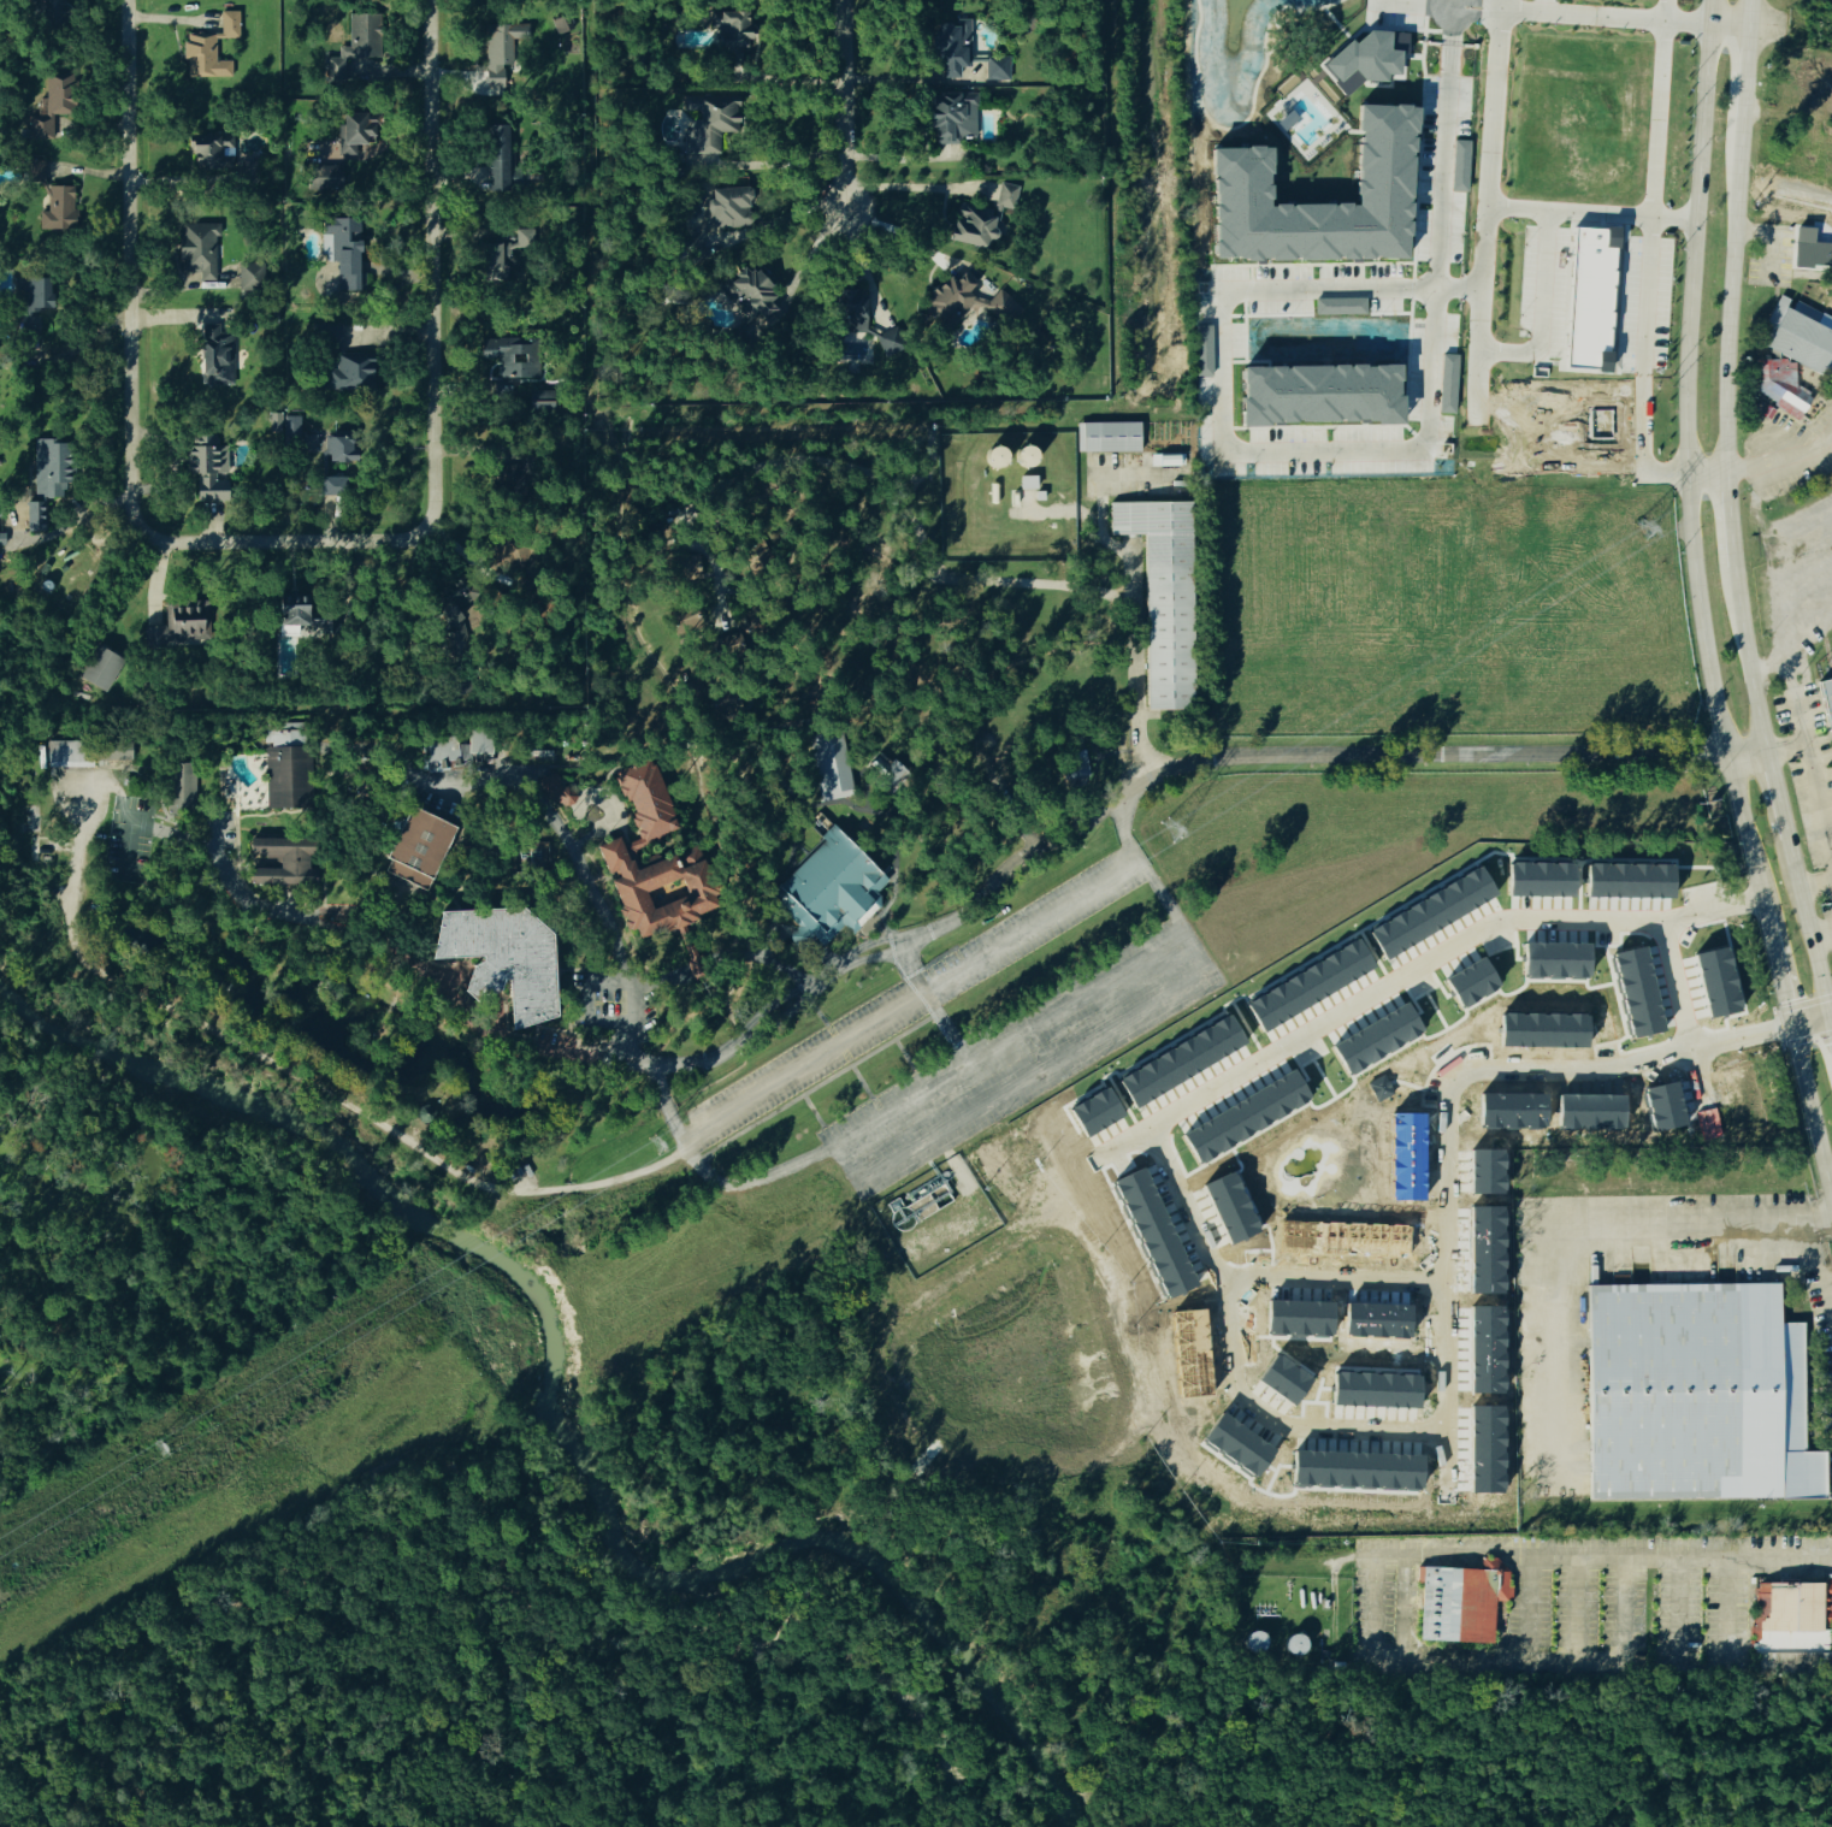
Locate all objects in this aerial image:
road: (1501, 5)
road: (1670, 11)
road: (1744, 13)
building: (731, 32)
building: (362, 36)
building: (950, 49)
building: (209, 51)
building: (492, 60)
building: (365, 64)
building: (997, 70)
building: (333, 72)
road: (1742, 75)
building: (57, 96)
road: (843, 102)
building: (952, 118)
building: (1287, 120)
building: (707, 123)
road: (1493, 124)
building: (353, 134)
building: (208, 150)
building: (498, 159)
road: (767, 162)
building: (1460, 166)
building: (32, 171)
building: (323, 179)
road: (1443, 188)
road: (910, 189)
building: (1006, 197)
building: (722, 207)
road: (1519, 208)
building: (58, 211)
road: (784, 214)
building: (1255, 214)
building: (971, 226)
road: (898, 230)
road: (1654, 231)
road: (1548, 241)
building: (503, 253)
building: (197, 254)
building: (339, 255)
building: (1822, 255)
building: (249, 278)
road: (1459, 290)
building: (750, 294)
road: (1728, 298)
building: (1591, 300)
building: (948, 303)
building: (1340, 306)
building: (1003, 308)
building: (31, 309)
building: (847, 312)
road: (129, 330)
road: (400, 331)
building: (1798, 337)
road: (436, 349)
building: (882, 349)
building: (510, 359)
building: (217, 360)
building: (350, 373)
road: (1683, 377)
building: (1448, 383)
building: (1778, 395)
building: (276, 424)
building: (290, 428)
building: (1107, 437)
road: (1228, 439)
building: (336, 448)
building: (1168, 459)
road: (1781, 460)
road: (956, 465)
building: (206, 469)
road: (1115, 475)
road: (1706, 478)
building: (45, 483)
building: (1027, 484)
building: (333, 486)
road: (723, 504)
road: (788, 509)
road: (1730, 522)
power tower: (1642, 534)
building: (755, 556)
building: (681, 570)
road: (625, 585)
building: (1164, 595)
road: (769, 603)
road: (809, 604)
road: (704, 613)
road: (733, 615)
building: (689, 620)
building: (181, 621)
building: (296, 621)
building: (728, 646)
road: (643, 651)
road: (704, 655)
road: (1747, 660)
road: (770, 666)
building: (101, 667)
road: (717, 667)
road: (951, 685)
road: (713, 687)
building: (725, 702)
building: (1826, 702)
road: (974, 704)
road: (1141, 709)
road: (1152, 709)
road: (1146, 713)
road: (1158, 713)
road: (1152, 716)
road: (1142, 717)
road: (822, 725)
water tower: (968, 731)
water tower: (989, 739)
road: (515, 741)
road: (762, 744)
road: (1800, 746)
building: (114, 750)
building: (457, 751)
road: (1115, 752)
building: (70, 753)
road: (602, 755)
road: (1458, 755)
building: (540, 756)
building: (364, 758)
building: (831, 763)
building: (289, 767)
road: (362, 767)
road: (110, 768)
road: (520, 768)
road: (621, 768)
building: (1075, 768)
road: (362, 769)
road: (359, 770)
road: (1813, 771)
road: (413, 774)
road: (858, 774)
building: (887, 774)
road: (359, 780)
building: (182, 790)
road: (865, 791)
road: (1777, 791)
road: (390, 793)
parking lot: (439, 794)
building: (566, 797)
building: (648, 802)
road: (556, 806)
road: (1011, 809)
road: (614, 815)
road: (597, 817)
road: (162, 818)
fountain: (865, 827)
parking lot: (227, 829)
road: (1747, 830)
road: (212, 832)
power tower: (1170, 833)
road: (720, 835)
road: (729, 835)
parking lot: (129, 839)
road: (188, 839)
road: (1046, 842)
road: (636, 845)
road: (675, 845)
road: (321, 846)
building: (419, 847)
road: (129, 849)
building: (34, 852)
road: (447, 853)
road: (261, 855)
building: (536, 855)
road: (256, 858)
road: (575, 858)
building: (284, 861)
road: (259, 862)
road: (349, 864)
road: (238, 870)
road: (890, 874)
fountain: (463, 879)
road: (528, 879)
road: (392, 885)
road: (531, 886)
road: (416, 888)
building: (661, 888)
building: (832, 888)
road: (893, 894)
road: (449, 897)
road: (439, 901)
road: (534, 901)
road: (389, 909)
road: (554, 911)
road: (303, 917)
road: (874, 922)
road: (380, 923)
road: (864, 926)
parking lot: (1032, 926)
road: (1809, 926)
road: (877, 928)
road: (797, 933)
road: (630, 934)
road: (1822, 934)
road: (894, 938)
road: (686, 945)
road: (900, 951)
road: (720, 954)
road: (701, 956)
building: (503, 958)
building: (1556, 959)
road: (687, 963)
road: (930, 963)
road: (1779, 969)
road: (791, 976)
road: (323, 977)
road: (1216, 980)
road: (253, 981)
road: (489, 981)
road: (593, 981)
building: (1716, 982)
building: (1637, 992)
road: (1677, 992)
road: (271, 997)
road: (735, 997)
parking lot: (595, 998)
road: (569, 1003)
road: (932, 1003)
road: (159, 1005)
road: (391, 1005)
road: (591, 1016)
traffic signals: (1831, 1017)
road: (822, 1018)
road: (1812, 1021)
road: (273, 1023)
traffic signals: (1792, 1025)
road: (507, 1030)
road: (1151, 1037)
parking lot: (555, 1039)
road: (578, 1046)
road: (1070, 1050)
parking lot: (1022, 1054)
road: (906, 1056)
road: (849, 1060)
parking lot: (803, 1065)
road: (638, 1071)
road: (569, 1076)
road: (814, 1088)
building: (1381, 1089)
road: (548, 1090)
road: (377, 1101)
road: (899, 1107)
road: (1810, 1108)
road: (814, 1111)
building: (426, 1112)
building: (1245, 1117)
power tower: (654, 1147)
road: (1077, 1234)
road: (1591, 1248)
road: (1208, 1254)
road: (1113, 1309)
road: (1003, 1367)
building: (1696, 1396)
river: (555, 1420)
road: (1358, 1435)
power tower: (158, 1451)
road: (1536, 1554)
road: (1286, 1602)
building: (1460, 1603)
building: (1789, 1619)
park: (449, 1643)
park: (1501, 1748)

